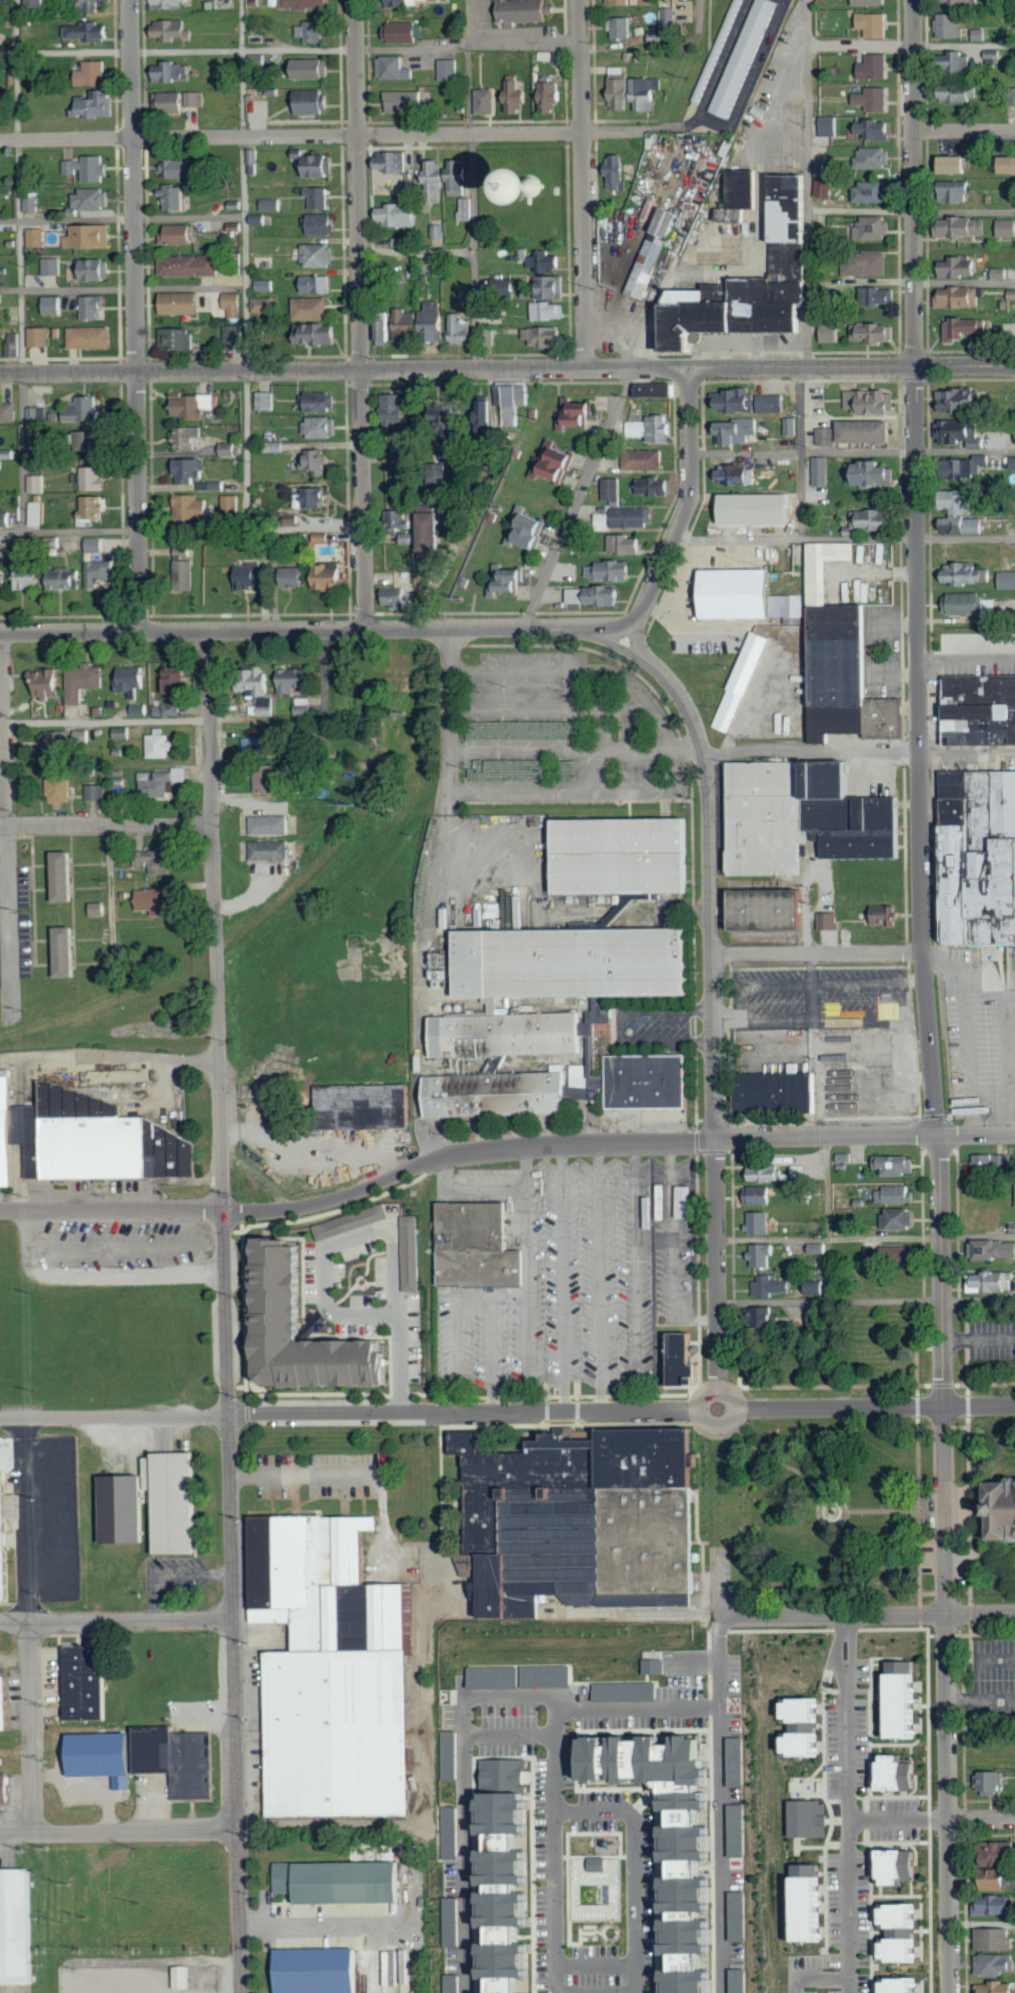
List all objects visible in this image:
building: (620, 1)
building: (5, 2)
building: (35, 2)
building: (645, 2)
building: (306, 3)
building: (405, 3)
building: (863, 3)
building: (952, 3)
building: (93, 4)
building: (170, 4)
building: (525, 10)
building: (671, 24)
building: (867, 25)
building: (623, 27)
building: (944, 27)
building: (174, 29)
building: (88, 30)
building: (314, 31)
building: (404, 32)
building: (974, 35)
road: (911, 44)
road: (290, 48)
building: (716, 50)
building: (743, 56)
building: (716, 58)
building: (950, 64)
building: (869, 67)
building: (313, 68)
building: (396, 68)
building: (449, 69)
building: (172, 70)
building: (96, 72)
building: (636, 93)
building: (554, 95)
building: (951, 95)
building: (517, 96)
building: (1010, 97)
building: (868, 100)
building: (313, 101)
building: (405, 101)
building: (487, 101)
building: (98, 105)
building: (3, 106)
building: (830, 126)
building: (867, 131)
road: (965, 131)
road: (324, 136)
building: (868, 158)
building: (252, 161)
building: (393, 162)
building: (318, 165)
building: (946, 166)
building: (1002, 166)
building: (819, 168)
building: (181, 169)
building: (618, 172)
building: (449, 174)
road: (471, 184)
road: (582, 184)
water tower: (522, 185)
road: (243, 186)
building: (825, 189)
building: (948, 192)
building: (864, 193)
building: (737, 195)
building: (175, 197)
building: (319, 197)
building: (94, 198)
building: (32, 204)
building: (270, 204)
building: (466, 209)
road: (911, 211)
building: (398, 215)
road: (122, 219)
building: (322, 223)
building: (867, 228)
building: (954, 228)
building: (1001, 229)
building: (438, 230)
building: (180, 233)
building: (91, 236)
building: (37, 238)
building: (402, 242)
building: (651, 250)
road: (415, 251)
building: (320, 255)
building: (544, 262)
road: (20, 264)
building: (863, 264)
building: (191, 265)
building: (664, 265)
building: (53, 266)
building: (952, 268)
building: (95, 269)
road: (808, 270)
building: (995, 274)
building: (396, 277)
building: (749, 281)
road: (911, 282)
building: (316, 283)
building: (266, 285)
building: (554, 286)
road: (122, 289)
building: (880, 296)
building: (954, 298)
building: (183, 302)
building: (233, 304)
building: (264, 304)
building: (54, 305)
building: (94, 307)
building: (312, 308)
building: (435, 309)
building: (548, 311)
road: (360, 315)
road: (135, 316)
building: (406, 324)
building: (958, 328)
building: (386, 329)
building: (462, 329)
building: (436, 332)
building: (876, 332)
building: (317, 333)
building: (830, 333)
building: (234, 334)
building: (40, 336)
building: (545, 336)
building: (91, 337)
building: (179, 338)
road: (851, 366)
road: (344, 371)
building: (659, 389)
building: (736, 400)
building: (267, 401)
building: (873, 401)
building: (952, 401)
building: (322, 402)
building: (513, 402)
building: (773, 403)
building: (194, 405)
building: (482, 406)
building: (397, 407)
building: (84, 409)
building: (450, 411)
building: (9, 413)
building: (37, 414)
building: (582, 415)
building: (790, 426)
building: (323, 427)
building: (651, 430)
building: (737, 430)
building: (870, 431)
building: (93, 435)
building: (188, 436)
building: (828, 436)
building: (230, 449)
road: (853, 452)
building: (401, 456)
building: (316, 461)
building: (644, 461)
building: (556, 464)
building: (957, 468)
building: (189, 469)
building: (823, 471)
building: (873, 473)
building: (737, 474)
building: (94, 478)
building: (35, 484)
building: (397, 484)
building: (218, 485)
building: (651, 486)
building: (613, 489)
building: (312, 497)
road: (577, 499)
building: (230, 504)
road: (468, 505)
building: (96, 507)
road: (243, 508)
building: (191, 509)
road: (686, 510)
building: (37, 514)
building: (951, 515)
building: (402, 518)
building: (626, 518)
building: (5, 519)
building: (872, 519)
road: (69, 529)
building: (531, 530)
building: (431, 533)
road: (844, 538)
building: (96, 544)
building: (632, 545)
road: (918, 567)
building: (184, 570)
building: (612, 570)
building: (101, 572)
building: (249, 576)
building: (960, 576)
building: (298, 577)
building: (331, 577)
building: (25, 578)
building: (2, 580)
building: (64, 580)
building: (510, 580)
building: (1004, 581)
building: (597, 595)
building: (746, 595)
building: (396, 597)
building: (955, 605)
building: (984, 609)
road: (314, 630)
road: (967, 656)
building: (840, 659)
building: (133, 678)
building: (178, 679)
building: (295, 680)
building: (86, 681)
building: (740, 681)
building: (48, 683)
building: (260, 691)
building: (978, 708)
building: (141, 709)
building: (169, 709)
building: (304, 709)
road: (205, 719)
building: (86, 736)
building: (160, 744)
building: (260, 745)
building: (60, 746)
road: (859, 750)
road: (513, 751)
building: (571, 769)
building: (267, 778)
building: (161, 781)
building: (61, 785)
building: (97, 792)
building: (802, 816)
building: (271, 825)
road: (106, 826)
road: (7, 827)
road: (442, 835)
building: (270, 850)
building: (978, 856)
building: (619, 857)
building: (158, 860)
building: (61, 876)
building: (213, 878)
road: (110, 894)
building: (156, 901)
building: (98, 909)
building: (767, 910)
building: (886, 915)
building: (829, 921)
road: (215, 922)
building: (64, 950)
road: (818, 953)
building: (571, 961)
building: (889, 1010)
road: (713, 1011)
building: (504, 1034)
road: (109, 1054)
building: (647, 1081)
building: (773, 1092)
building: (494, 1093)
building: (360, 1106)
road: (819, 1127)
road: (977, 1134)
building: (87, 1140)
road: (463, 1150)
building: (985, 1162)
road: (527, 1165)
building: (889, 1165)
building: (770, 1172)
road: (470, 1187)
building: (889, 1195)
building: (1013, 1195)
building: (760, 1196)
building: (685, 1202)
building: (893, 1219)
building: (353, 1222)
building: (759, 1223)
building: (1010, 1228)
road: (381, 1229)
road: (29, 1230)
road: (978, 1237)
road: (829, 1239)
road: (128, 1245)
building: (474, 1245)
road: (674, 1247)
building: (991, 1250)
building: (412, 1254)
building: (764, 1255)
road: (117, 1275)
road: (599, 1276)
road: (636, 1276)
road: (562, 1277)
building: (985, 1282)
building: (768, 1286)
building: (809, 1289)
building: (276, 1291)
road: (474, 1298)
road: (530, 1299)
road: (866, 1300)
building: (763, 1317)
road: (979, 1338)
building: (680, 1359)
road: (507, 1413)
building: (173, 1502)
building: (123, 1507)
building: (1002, 1511)
building: (578, 1519)
building: (2, 1530)
road: (946, 1563)
building: (1014, 1571)
road: (720, 1583)
road: (234, 1602)
road: (867, 1615)
road: (117, 1620)
building: (656, 1666)
building: (328, 1667)
building: (522, 1676)
building: (83, 1684)
building: (628, 1691)
road: (981, 1698)
building: (3, 1702)
building: (898, 1702)
road: (629, 1708)
road: (32, 1727)
building: (799, 1729)
road: (509, 1735)
building: (452, 1755)
building: (147, 1759)
building: (738, 1761)
building: (897, 1773)
building: (983, 1784)
building: (3, 1789)
road: (465, 1794)
road: (848, 1804)
road: (554, 1812)
road: (931, 1819)
building: (807, 1820)
road: (119, 1832)
building: (452, 1832)
building: (672, 1840)
building: (1003, 1853)
building: (601, 1864)
building: (894, 1870)
building: (506, 1876)
building: (338, 1879)
building: (1003, 1879)
building: (803, 1904)
building: (995, 1904)
building: (586, 1910)
road: (983, 1923)
building: (15, 1926)
building: (997, 1938)
building: (897, 1949)
building: (997, 1964)
building: (336, 1970)
road: (814, 1974)
building: (184, 1977)
power substation: (142, 1978)
building: (741, 1980)
road: (637, 1981)
building: (454, 1983)
building: (997, 1987)

